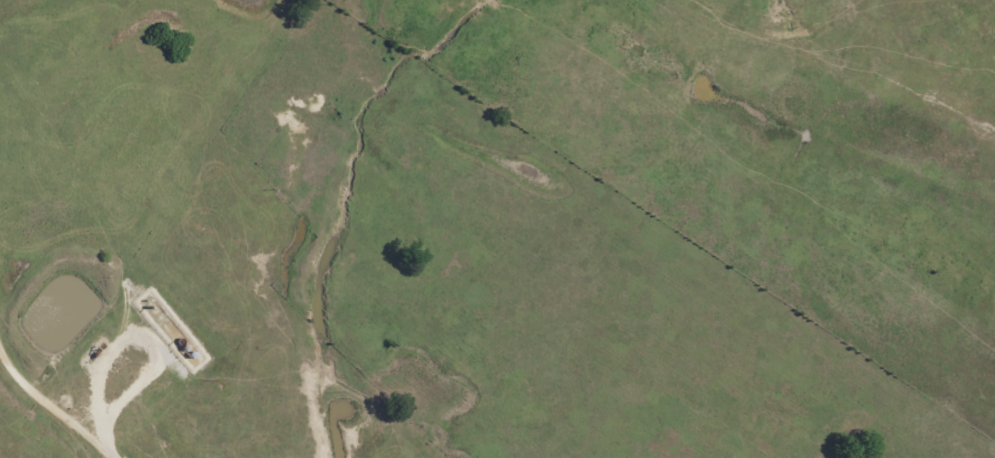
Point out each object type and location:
road: (51, 409)

